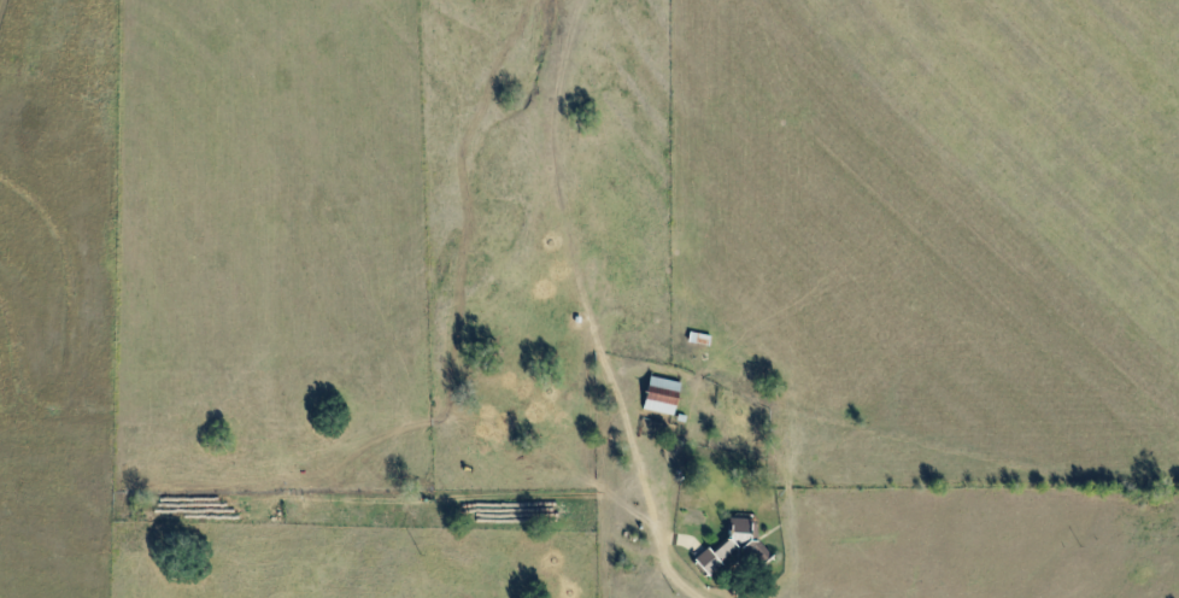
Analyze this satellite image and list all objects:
building: (661, 395)
building: (732, 551)
road: (588, 556)

